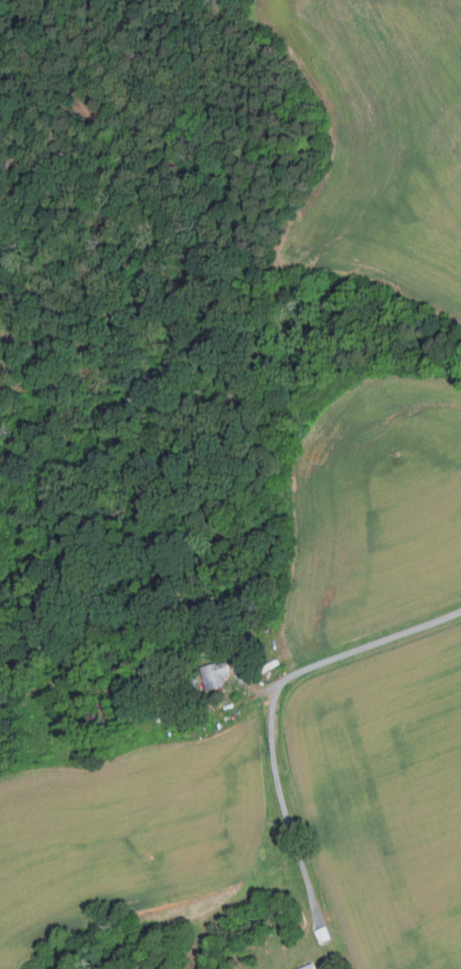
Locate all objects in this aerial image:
building: (217, 672)
road: (278, 711)
building: (309, 966)

